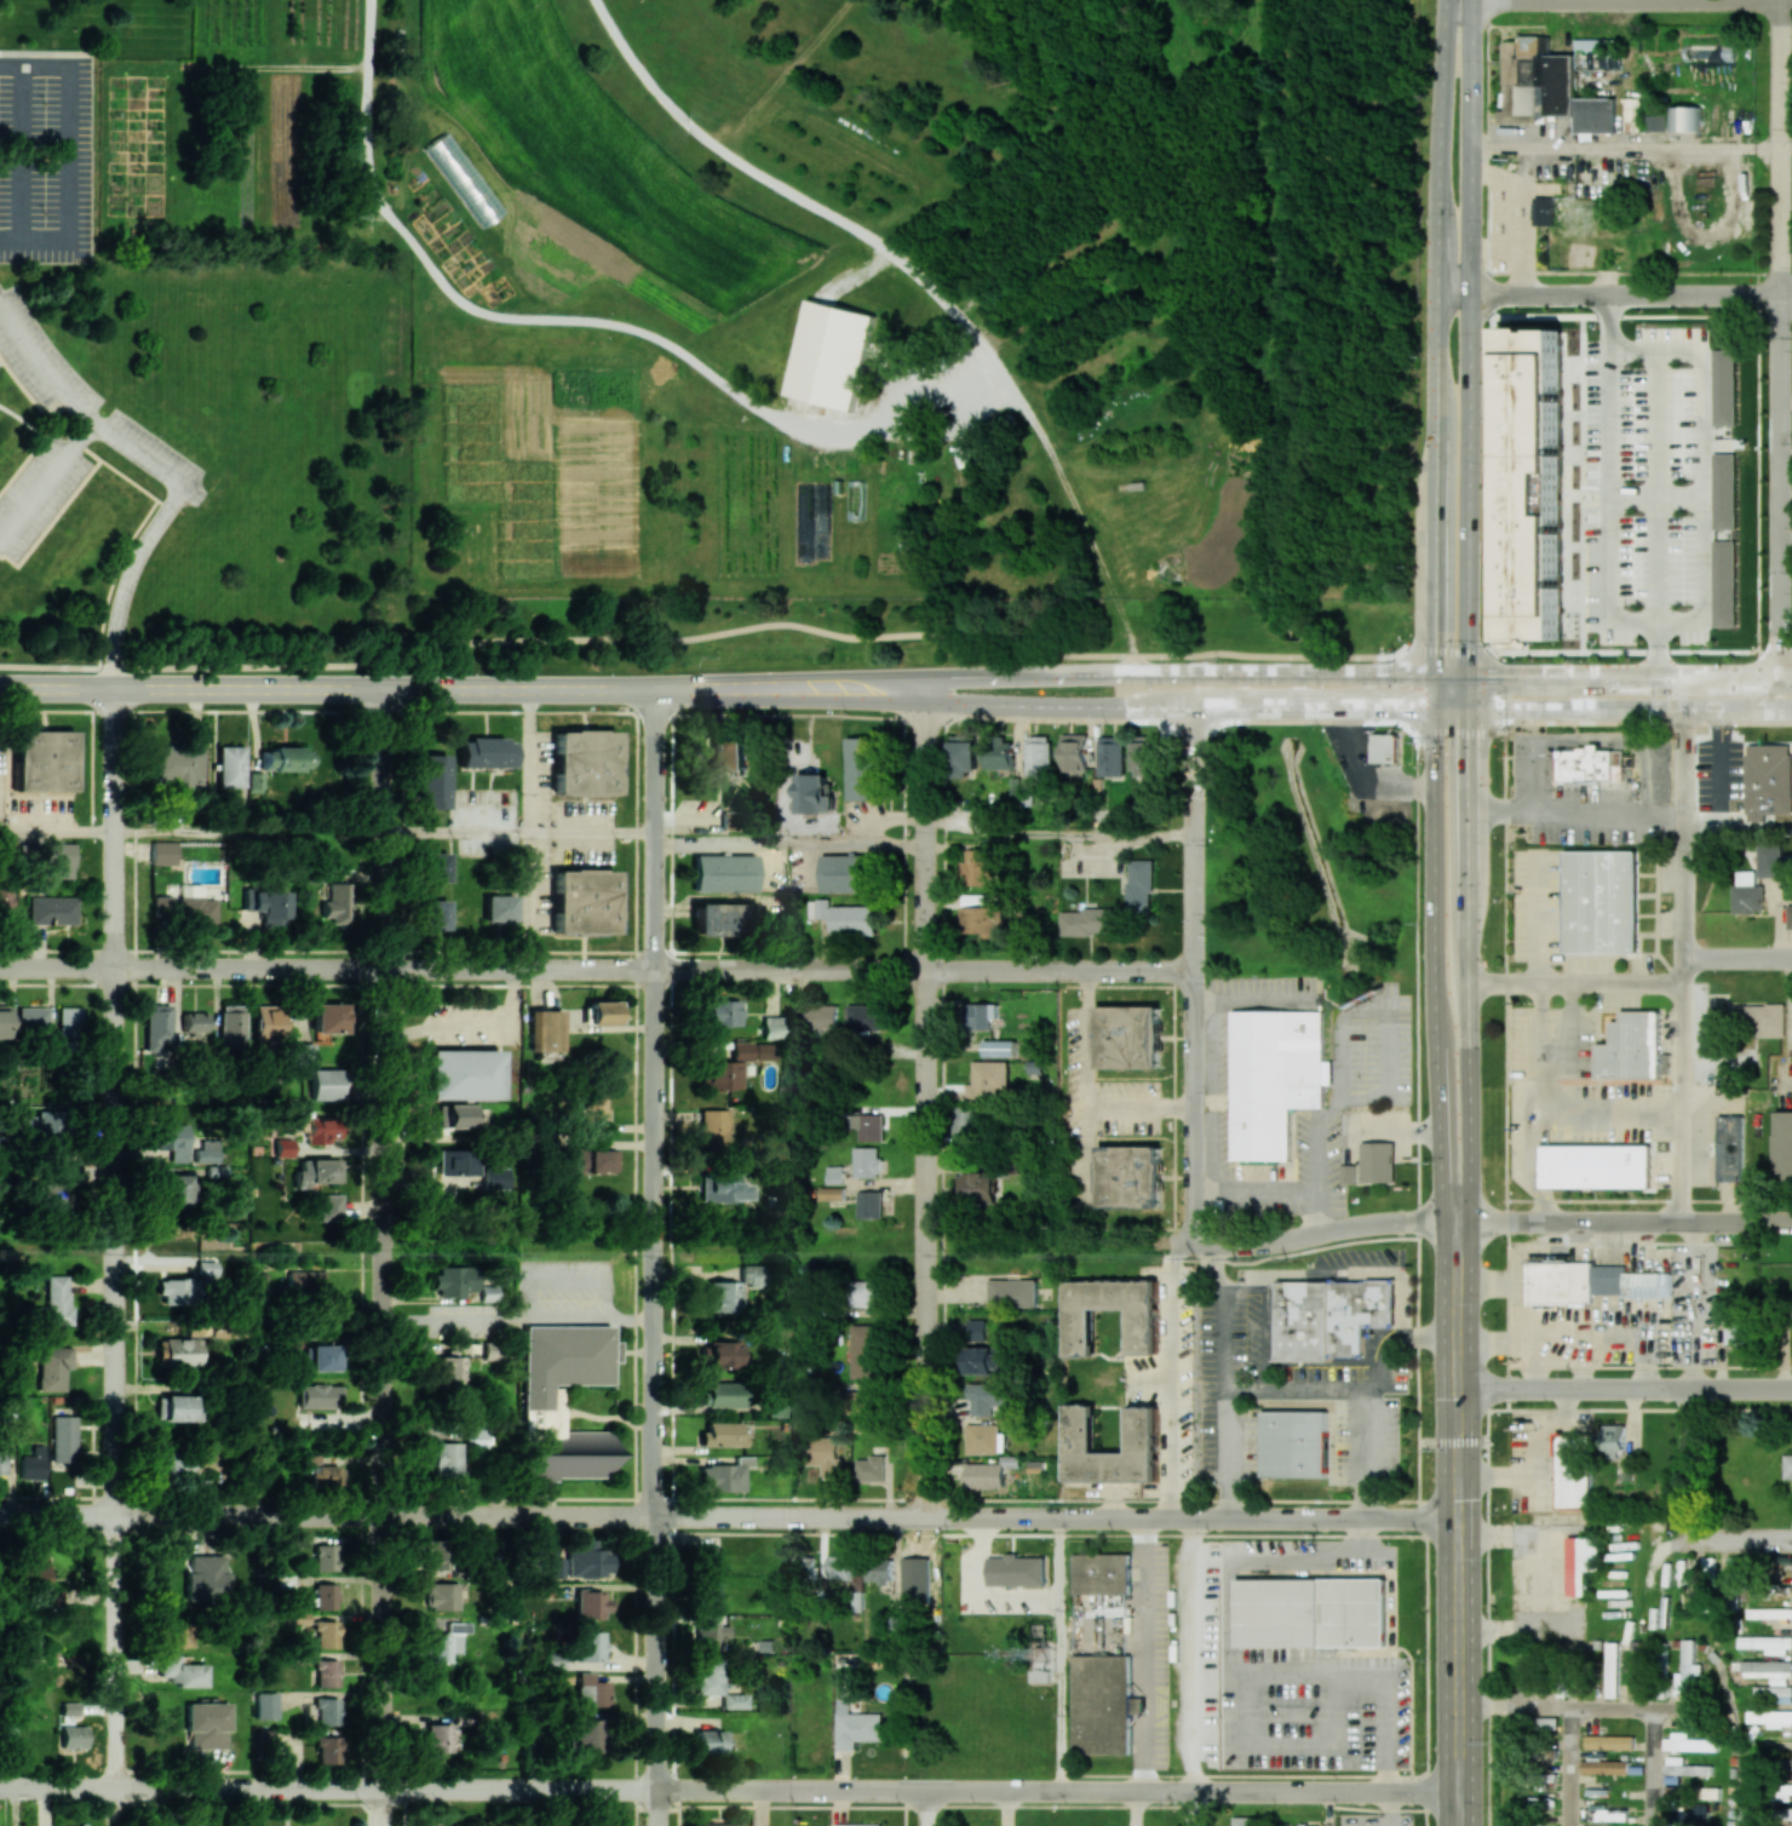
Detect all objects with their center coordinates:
road: (1632, 0)
crop: (282, 29)
building: (1710, 52)
building: (1576, 98)
building: (1509, 113)
crop: (903, 119)
building: (1684, 119)
building: (1656, 122)
road: (1625, 149)
road: (1786, 149)
crop: (143, 153)
road: (80, 157)
crop: (576, 172)
building: (1551, 211)
crop: (448, 239)
crop: (232, 274)
road: (1613, 295)
crop: (1359, 312)
road: (1468, 337)
road: (1779, 337)
road: (1435, 354)
building: (831, 355)
building: (1724, 387)
building: (925, 389)
road: (74, 412)
road: (844, 432)
building: (964, 455)
crop: (626, 476)
road: (1610, 477)
road: (45, 484)
building: (1724, 490)
road: (1654, 493)
building: (855, 500)
building: (821, 509)
road: (127, 579)
building: (1724, 582)
road: (896, 634)
traffic signals: (1435, 639)
road: (1058, 673)
traffic signals: (1503, 674)
road: (1629, 674)
road: (326, 688)
road: (1466, 691)
road: (1043, 705)
road: (1629, 708)
traffic signals: (1403, 710)
road: (1451, 710)
road: (898, 719)
traffic signals: (1468, 743)
building: (1385, 748)
building: (484, 752)
building: (1074, 752)
building: (998, 754)
building: (1038, 756)
building: (1112, 756)
building: (1145, 756)
building: (728, 757)
building: (964, 757)
building: (285, 758)
building: (42, 759)
road: (527, 760)
road: (1534, 762)
building: (582, 763)
building: (1589, 764)
building: (178, 765)
building: (230, 765)
road: (1727, 768)
building: (862, 769)
road: (1362, 780)
building: (1768, 780)
building: (255, 781)
building: (432, 781)
building: (815, 793)
road: (1574, 815)
road: (1759, 827)
road: (1704, 828)
road: (57, 832)
road: (179, 832)
road: (1057, 832)
road: (453, 833)
road: (590, 833)
road: (788, 845)
building: (162, 852)
building: (59, 860)
building: (1769, 861)
park: (1302, 863)
building: (435, 867)
building: (978, 867)
building: (724, 873)
building: (845, 873)
building: (1139, 886)
building: (1747, 894)
building: (5, 901)
building: (582, 901)
building: (1601, 901)
road: (527, 902)
building: (334, 903)
building: (195, 906)
building: (498, 907)
building: (51, 909)
building: (435, 914)
building: (845, 917)
building: (1788, 917)
building: (714, 919)
building: (1086, 921)
road: (1541, 921)
road: (1738, 958)
road: (1683, 964)
road: (597, 970)
road: (1195, 975)
road: (1435, 982)
road: (1468, 982)
road: (1574, 983)
road: (1208, 998)
building: (603, 1012)
building: (720, 1012)
building: (981, 1015)
building: (816, 1016)
building: (865, 1016)
building: (329, 1017)
building: (1745, 1017)
building: (4, 1021)
building: (34, 1021)
building: (69, 1022)
building: (194, 1022)
building: (156, 1024)
building: (268, 1024)
building: (231, 1027)
building: (771, 1027)
building: (546, 1029)
road: (1091, 1035)
building: (1128, 1037)
road: (1576, 1045)
building: (999, 1047)
building: (1631, 1047)
building: (1523, 1049)
building: (303, 1052)
building: (728, 1068)
building: (461, 1074)
road: (1539, 1076)
building: (1274, 1078)
building: (988, 1079)
road: (1787, 1083)
building: (324, 1084)
road: (1222, 1092)
road: (924, 1097)
road: (1143, 1104)
building: (593, 1108)
road: (1599, 1112)
building: (453, 1116)
building: (966, 1121)
building: (34, 1126)
building: (868, 1126)
building: (714, 1127)
building: (321, 1130)
road: (1378, 1132)
building: (173, 1139)
building: (1784, 1144)
building: (281, 1147)
building: (1730, 1148)
building: (588, 1160)
building: (866, 1161)
building: (1378, 1161)
building: (455, 1162)
building: (1595, 1166)
road: (1321, 1167)
building: (316, 1171)
building: (1348, 1173)
building: (834, 1175)
building: (1128, 1177)
building: (494, 1178)
building: (978, 1184)
road: (1270, 1185)
building: (723, 1187)
building: (173, 1190)
building: (832, 1193)
road: (1211, 1193)
road: (1540, 1193)
building: (871, 1204)
building: (328, 1207)
road: (1316, 1211)
road: (1631, 1222)
road: (1317, 1233)
road: (772, 1244)
road: (114, 1252)
road: (380, 1256)
road: (654, 1257)
building: (206, 1268)
road: (1371, 1273)
building: (752, 1275)
building: (304, 1281)
building: (452, 1281)
building: (1560, 1282)
building: (1629, 1282)
building: (176, 1290)
building: (487, 1292)
building: (863, 1293)
building: (1012, 1293)
building: (722, 1296)
building: (53, 1302)
building: (1331, 1316)
road: (516, 1319)
building: (976, 1330)
building: (1142, 1331)
building: (1738, 1333)
building: (177, 1351)
building: (865, 1351)
building: (723, 1354)
building: (324, 1357)
building: (984, 1360)
building: (52, 1367)
building: (561, 1369)
building: (450, 1372)
road: (1151, 1378)
road: (1223, 1380)
road: (1172, 1382)
road: (1625, 1388)
road: (1337, 1391)
building: (724, 1394)
building: (318, 1396)
building: (863, 1397)
building: (987, 1397)
building: (179, 1407)
building: (775, 1408)
building: (1078, 1430)
building: (722, 1434)
building: (63, 1437)
building: (981, 1439)
building: (1615, 1441)
building: (1293, 1443)
traffic signals: (1444, 1443)
road: (1453, 1443)
traffic signals: (1458, 1443)
road: (1535, 1452)
building: (827, 1454)
road: (1366, 1455)
building: (447, 1458)
building: (575, 1458)
building: (2, 1460)
road: (1687, 1463)
building: (33, 1464)
building: (1787, 1465)
building: (174, 1466)
building: (873, 1469)
building: (1573, 1472)
building: (324, 1474)
building: (722, 1475)
building: (983, 1475)
road: (729, 1517)
road: (986, 1532)
road: (1459, 1539)
road: (1725, 1539)
building: (437, 1555)
building: (324, 1557)
building: (708, 1558)
road: (1256, 1560)
building: (586, 1561)
building: (1581, 1562)
building: (842, 1566)
building: (556, 1567)
road: (983, 1569)
building: (1016, 1571)
building: (1101, 1573)
building: (878, 1574)
building: (1733, 1574)
building: (206, 1577)
road: (1549, 1579)
building: (44, 1580)
building: (443, 1595)
building: (326, 1596)
building: (708, 1597)
road: (1021, 1597)
building: (591, 1603)
building: (1311, 1612)
building: (1769, 1613)
building: (176, 1633)
building: (326, 1633)
building: (710, 1635)
building: (444, 1642)
building: (1767, 1643)
building: (588, 1646)
road: (1061, 1654)
road: (1147, 1654)
building: (1767, 1669)
building: (1612, 1670)
building: (1685, 1670)
building: (182, 1671)
road: (1189, 1671)
building: (326, 1672)
building: (708, 1676)
road: (1265, 1676)
building: (590, 1690)
building: (1773, 1694)
building: (733, 1700)
building: (1101, 1704)
building: (265, 1705)
road: (1572, 1707)
building: (326, 1711)
building: (1771, 1717)
building: (855, 1722)
building: (1547, 1723)
building: (206, 1725)
building: (584, 1733)
building: (6, 1735)
building: (73, 1736)
building: (262, 1736)
building: (437, 1741)
building: (707, 1741)
building: (1609, 1741)
building: (1688, 1742)
building: (327, 1749)
building: (1752, 1763)
road: (1567, 1767)
building: (1606, 1767)
road: (1653, 1767)
building: (1684, 1767)
road: (729, 1791)
road: (201, 1804)
road: (337, 1804)
road: (925, 1808)
road: (1009, 1808)
road: (1139, 1808)
road: (1389, 1809)
park: (305, 1813)
building: (1593, 1813)
road: (286, 1815)
building: (1244, 1821)
building: (720, 1824)
building: (852, 1825)
building: (1296, 1825)

